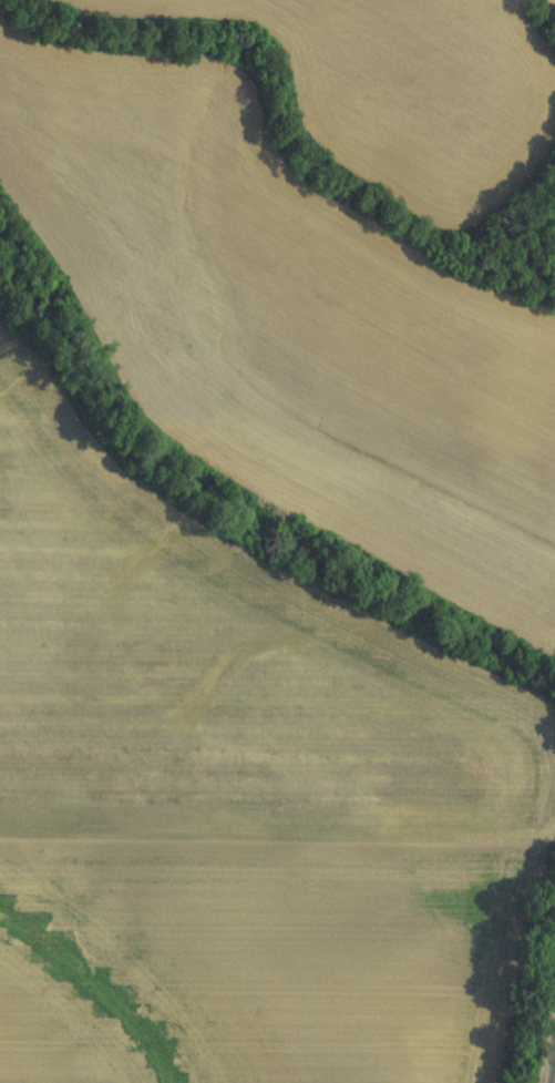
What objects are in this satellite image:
railway: (553, 1069)

